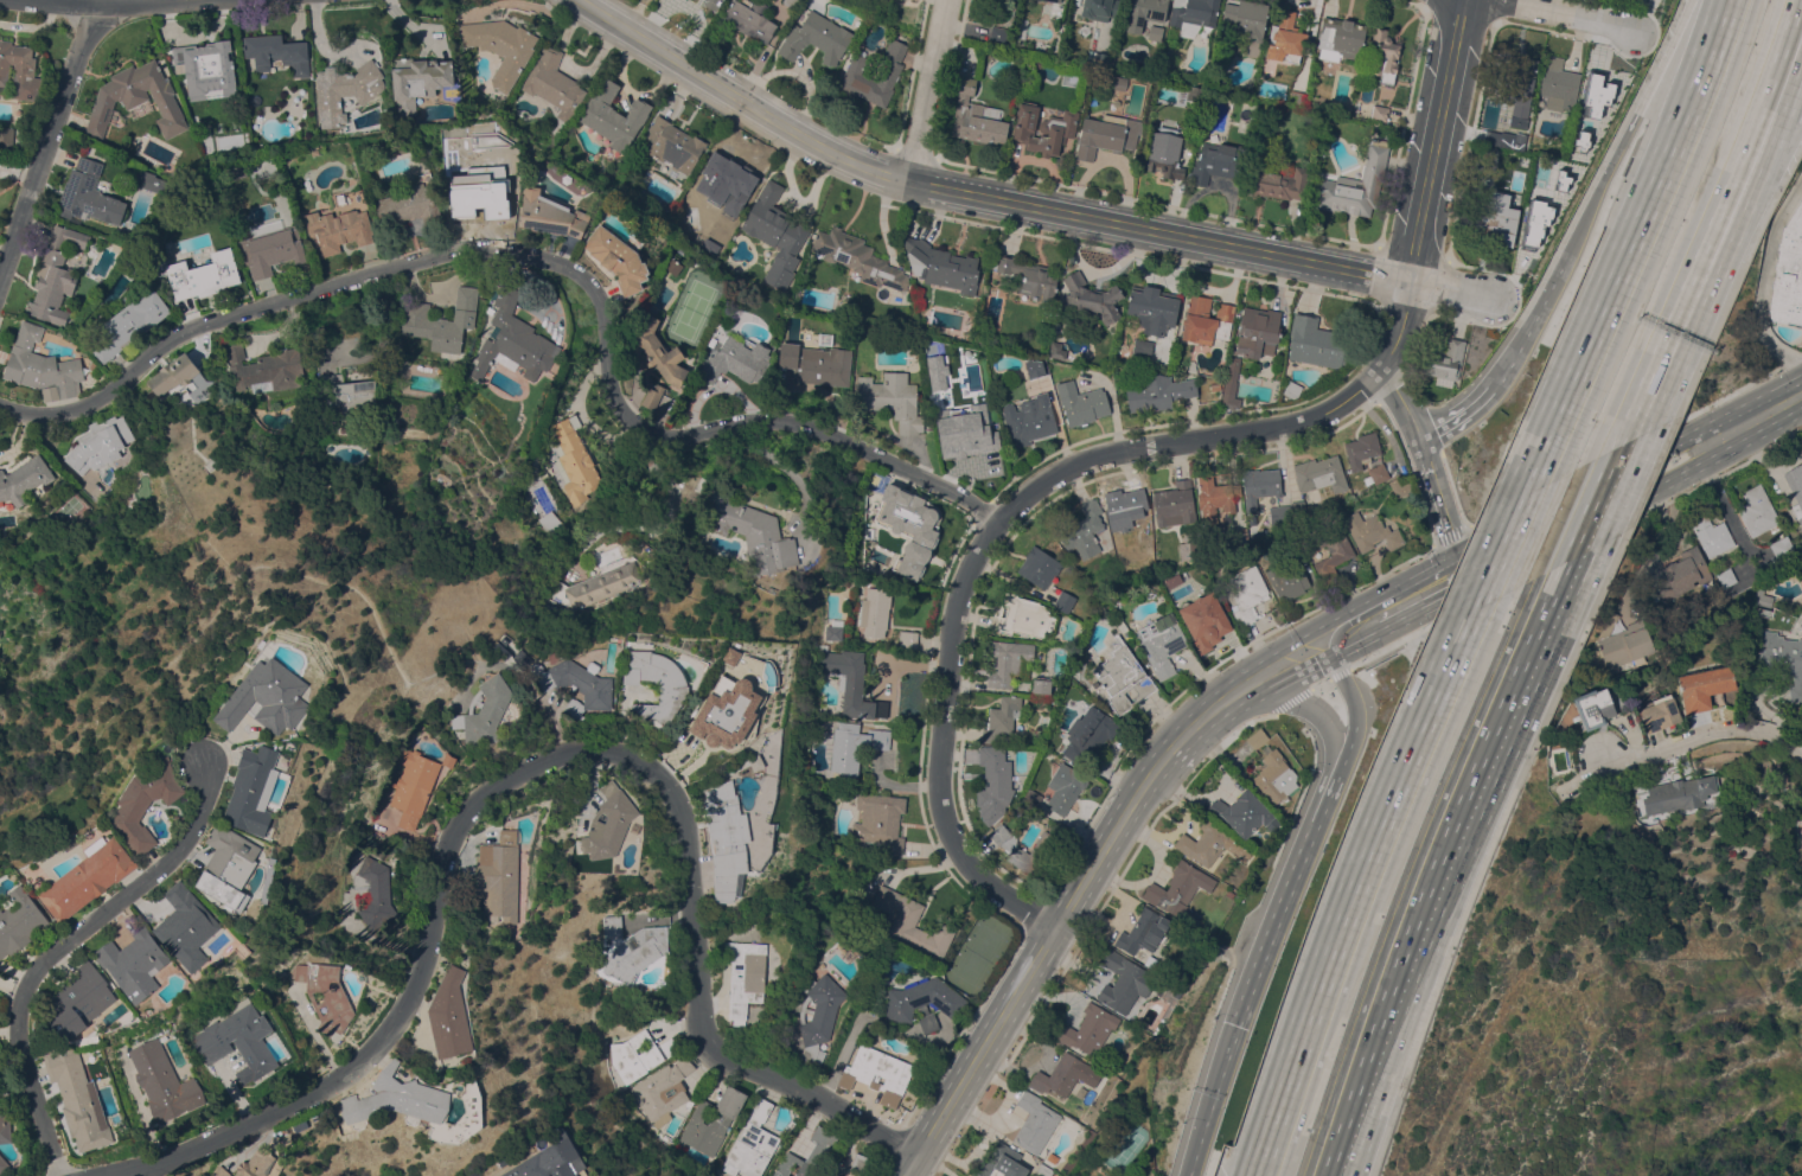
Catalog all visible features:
road: (116, 0)
building: (1055, 0)
building: (711, 4)
building: (1100, 8)
building: (1193, 12)
building: (1145, 13)
road: (1567, 14)
building: (749, 18)
road: (1789, 18)
building: (1245, 19)
building: (1022, 27)
road: (1793, 27)
building: (1154, 32)
building: (998, 34)
building: (1287, 34)
building: (817, 38)
building: (1340, 39)
building: (499, 46)
building: (275, 53)
road: (1662, 55)
building: (1384, 56)
building: (1101, 59)
building: (207, 68)
building: (19, 70)
building: (892, 73)
building: (418, 81)
building: (552, 83)
building: (1119, 83)
building: (1558, 84)
road: (924, 89)
building: (345, 90)
building: (1519, 91)
building: (1194, 92)
building: (136, 98)
road: (1759, 101)
building: (1379, 113)
building: (614, 115)
building: (977, 116)
building: (1043, 129)
building: (1107, 134)
building: (6, 136)
road: (47, 139)
building: (1504, 140)
road: (1769, 142)
building: (673, 145)
building: (1318, 151)
building: (313, 152)
building: (1165, 153)
building: (1218, 162)
building: (152, 181)
building: (1279, 183)
road: (1424, 184)
building: (1354, 185)
road: (1596, 187)
building: (716, 190)
building: (491, 191)
road: (972, 192)
building: (89, 194)
building: (460, 206)
building: (408, 207)
road: (1714, 212)
building: (550, 215)
building: (1495, 225)
building: (337, 230)
building: (775, 234)
building: (193, 250)
building: (273, 250)
building: (858, 257)
building: (618, 258)
road: (547, 261)
building: (672, 264)
building: (941, 266)
building: (1788, 273)
building: (200, 275)
building: (55, 276)
building: (1029, 277)
road: (1763, 281)
road: (1450, 290)
building: (1092, 299)
building: (1152, 308)
building: (490, 309)
building: (1206, 320)
building: (441, 321)
building: (128, 325)
road: (1523, 326)
building: (1257, 332)
building: (513, 339)
building: (1318, 343)
building: (1056, 350)
building: (1142, 350)
building: (657, 352)
building: (736, 359)
building: (1443, 359)
building: (817, 364)
building: (40, 366)
building: (1036, 366)
building: (262, 369)
building: (173, 373)
building: (935, 373)
building: (791, 379)
building: (956, 385)
building: (1231, 385)
building: (1214, 386)
building: (1292, 389)
building: (344, 392)
building: (1158, 392)
building: (652, 396)
building: (892, 398)
road: (1400, 401)
building: (1081, 403)
road: (1457, 416)
road: (1758, 416)
building: (1030, 421)
road: (1699, 440)
building: (969, 441)
building: (98, 443)
building: (1361, 449)
building: (575, 464)
road: (1693, 467)
building: (1378, 473)
building: (1319, 474)
building: (23, 479)
building: (1260, 485)
building: (1400, 487)
building: (1795, 487)
road: (1438, 496)
building: (1215, 499)
building: (1174, 504)
building: (1127, 509)
building: (1757, 511)
building: (1287, 513)
building: (550, 523)
building: (909, 525)
building: (1082, 530)
building: (1370, 532)
building: (752, 533)
building: (1712, 535)
building: (1239, 537)
road: (984, 538)
building: (1284, 538)
building: (1188, 547)
building: (1781, 548)
building: (1330, 551)
traffic signals: (1458, 554)
road: (1448, 558)
building: (1039, 568)
building: (1682, 574)
building: (1726, 577)
road: (1406, 580)
building: (1287, 581)
building: (595, 583)
traffic signals: (1470, 584)
road: (1487, 584)
building: (1247, 594)
building: (1762, 599)
building: (1065, 600)
building: (875, 612)
building: (1024, 615)
road: (1405, 618)
building: (1203, 620)
road: (1344, 621)
building: (833, 629)
road: (1298, 635)
building: (907, 639)
building: (503, 640)
building: (1162, 643)
building: (1624, 643)
road: (1356, 644)
building: (630, 645)
building: (522, 657)
traffic signals: (1331, 658)
building: (1782, 659)
building: (1009, 660)
road: (1302, 673)
building: (1123, 678)
building: (850, 683)
building: (657, 684)
building: (575, 685)
building: (1705, 686)
building: (1041, 688)
road: (1253, 690)
building: (270, 697)
building: (1593, 708)
building: (485, 710)
building: (724, 711)
building: (1660, 712)
road: (1497, 714)
building: (1001, 718)
road: (1200, 718)
road: (1328, 730)
road: (1353, 730)
building: (1089, 734)
road: (1700, 735)
building: (1258, 739)
building: (855, 744)
road: (530, 760)
building: (1685, 763)
building: (1656, 772)
building: (993, 775)
building: (1274, 776)
building: (416, 782)
building: (1065, 787)
building: (257, 788)
road: (1138, 791)
building: (1679, 794)
building: (1033, 797)
building: (1637, 798)
building: (148, 804)
building: (1216, 806)
building: (1248, 813)
building: (184, 817)
building: (880, 820)
building: (609, 823)
building: (1210, 843)
building: (726, 845)
building: (1010, 848)
building: (232, 867)
building: (499, 875)
building: (92, 877)
road: (1082, 880)
building: (1178, 888)
building: (371, 893)
road: (1280, 914)
building: (1193, 920)
building: (21, 922)
building: (912, 922)
building: (191, 926)
building: (612, 926)
building: (1144, 931)
road: (65, 942)
building: (635, 952)
building: (139, 963)
building: (745, 976)
building: (1125, 982)
building: (328, 993)
building: (83, 1001)
building: (924, 1002)
building: (818, 1014)
building: (451, 1015)
traffic signals: (1238, 1025)
building: (1092, 1028)
building: (241, 1038)
building: (669, 1046)
road: (982, 1050)
building: (634, 1055)
building: (820, 1060)
building: (0, 1063)
building: (877, 1073)
building: (1059, 1074)
building: (167, 1081)
building: (663, 1091)
building: (398, 1098)
building: (83, 1100)
road: (1210, 1100)
building: (713, 1120)
building: (1035, 1123)
building: (7, 1126)
road: (747, 1126)
building: (753, 1143)
building: (810, 1155)
building: (860, 1161)
building: (541, 1162)
building: (998, 1162)
building: (5, 1163)
building: (258, 1163)
building: (1043, 1170)
building: (223, 1171)
building: (571, 1174)

